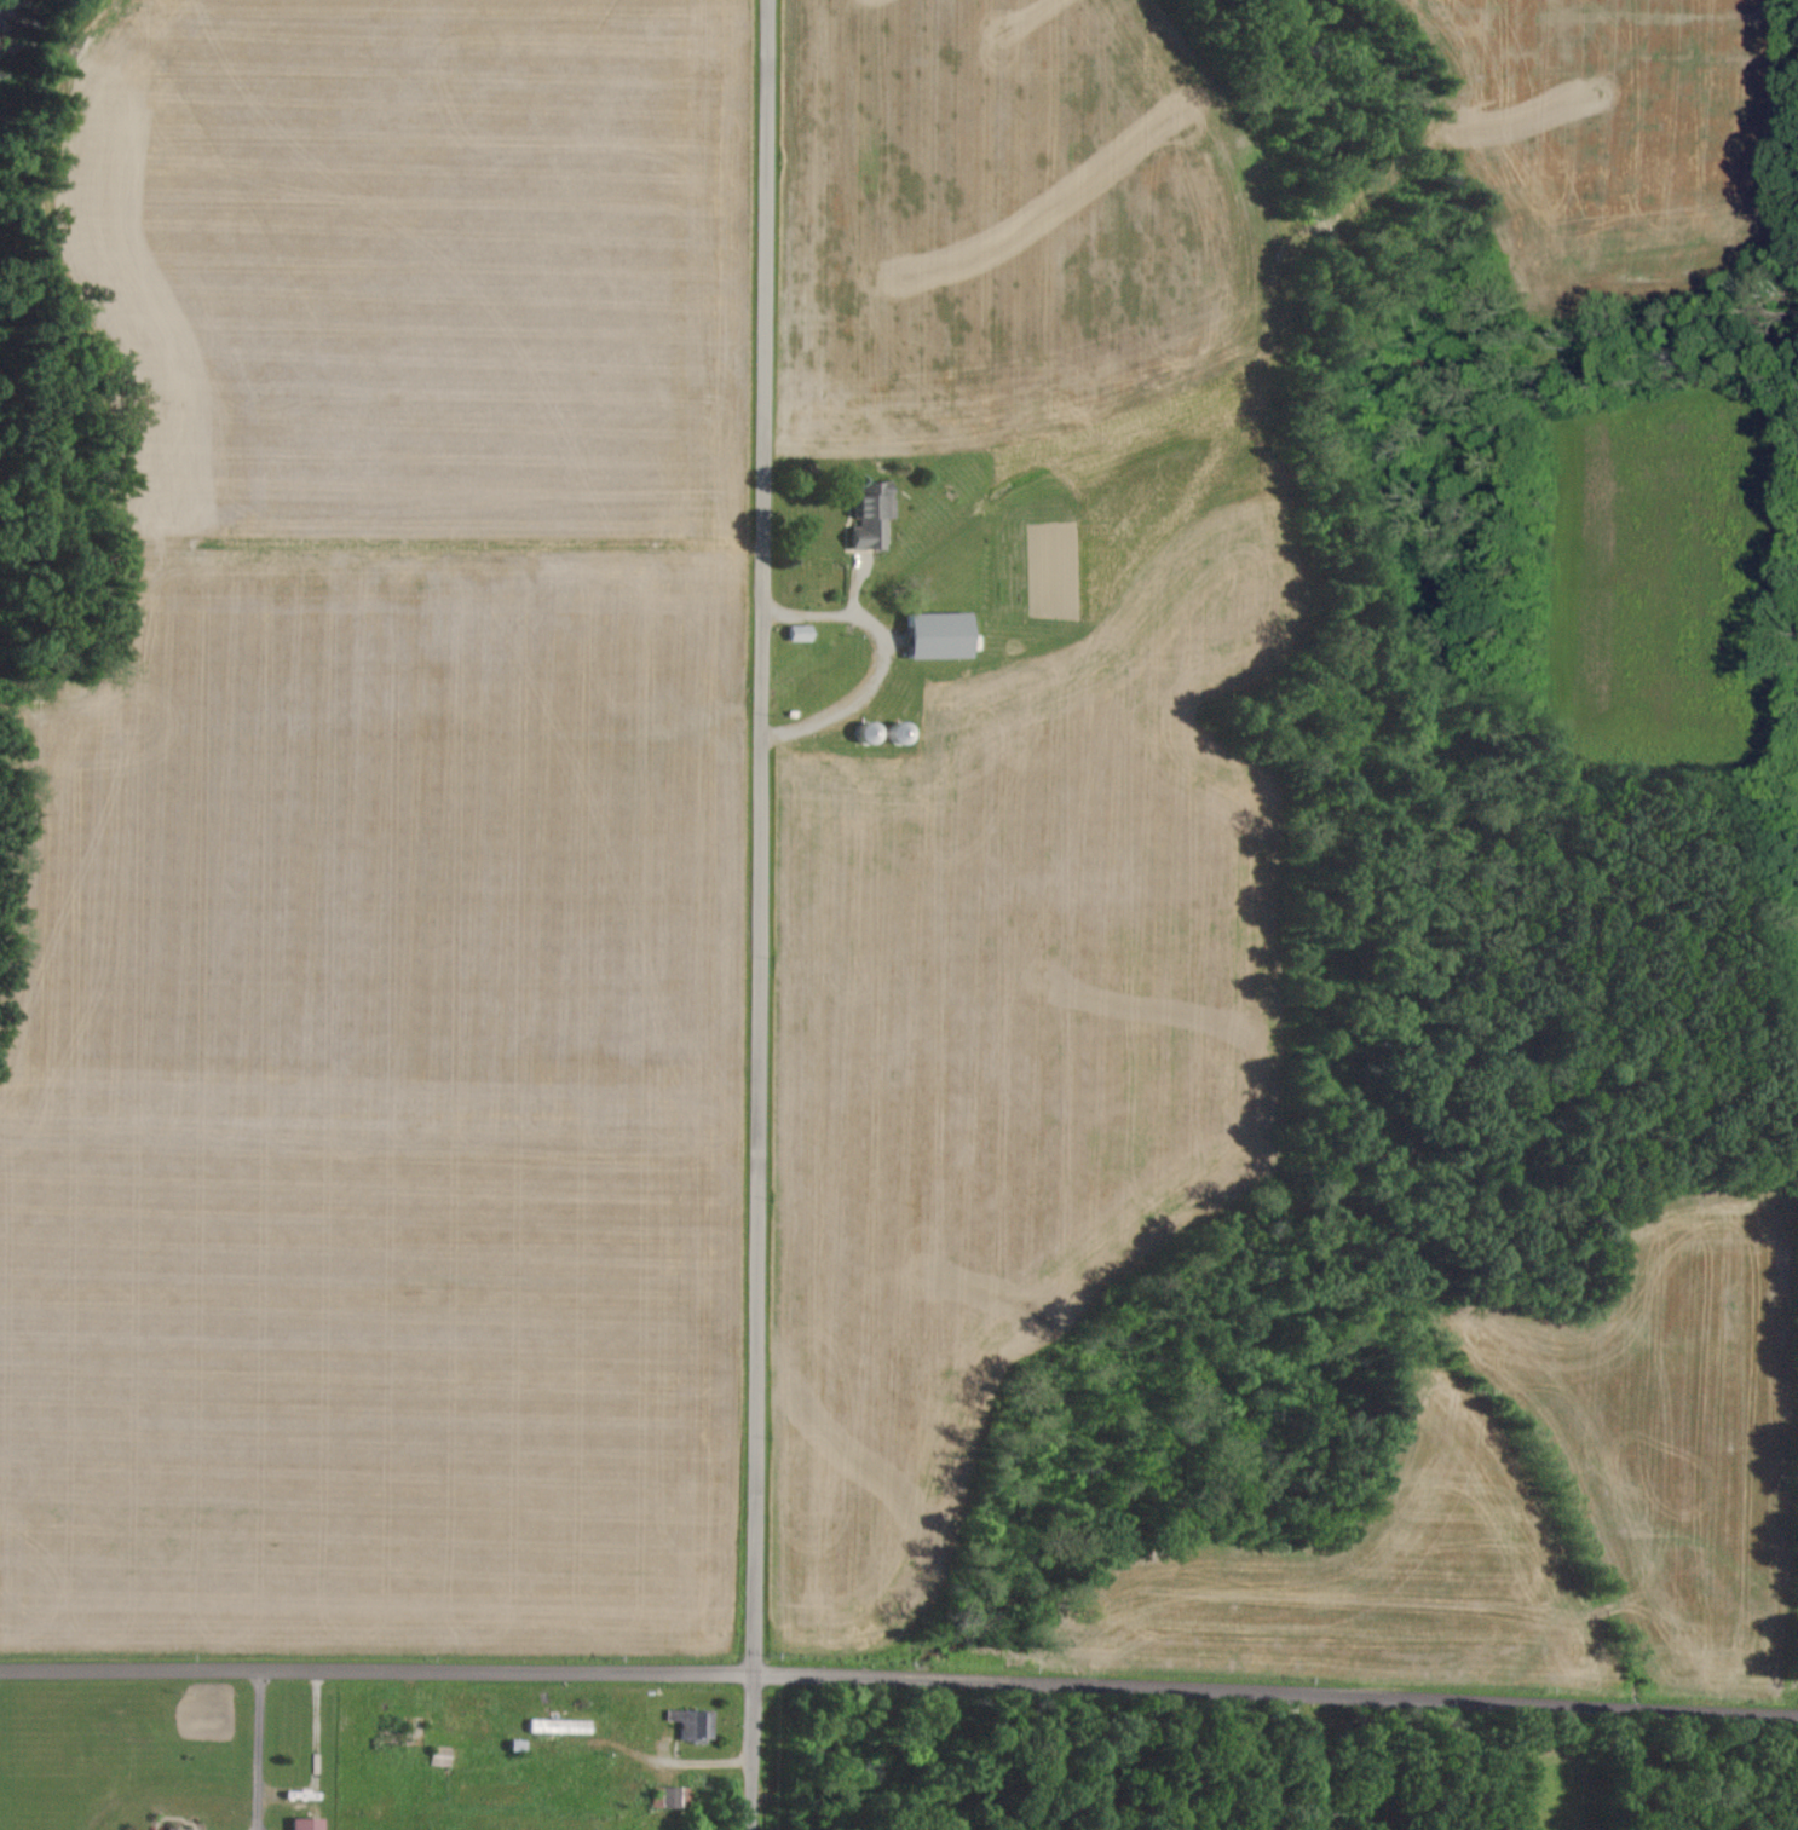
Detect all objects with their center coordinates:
building: (876, 514)
building: (805, 633)
building: (946, 635)
road: (882, 658)
building: (876, 731)
building: (907, 732)
road: (759, 914)
road: (899, 1676)
building: (697, 1724)
building: (564, 1726)
road: (261, 1750)
building: (670, 1796)
building: (313, 1824)
building: (181, 1829)

